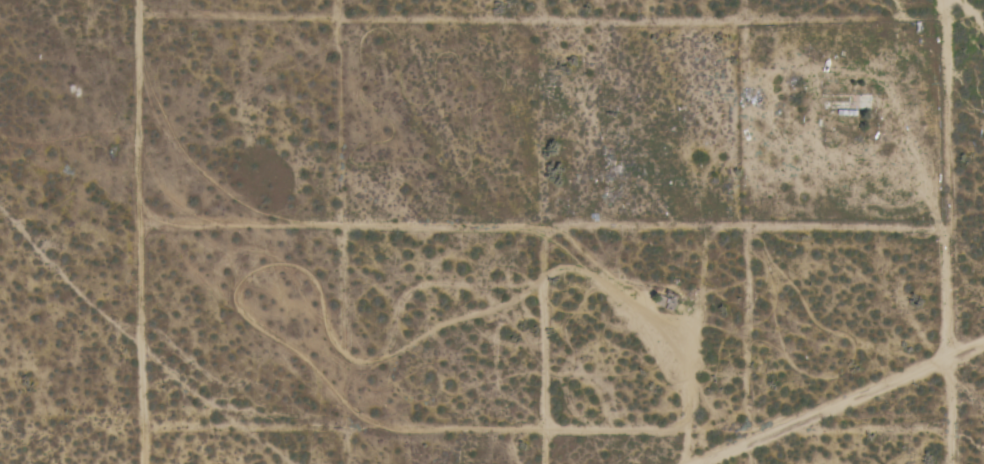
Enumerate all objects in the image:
road: (420, 225)
road: (948, 231)
road: (856, 411)

